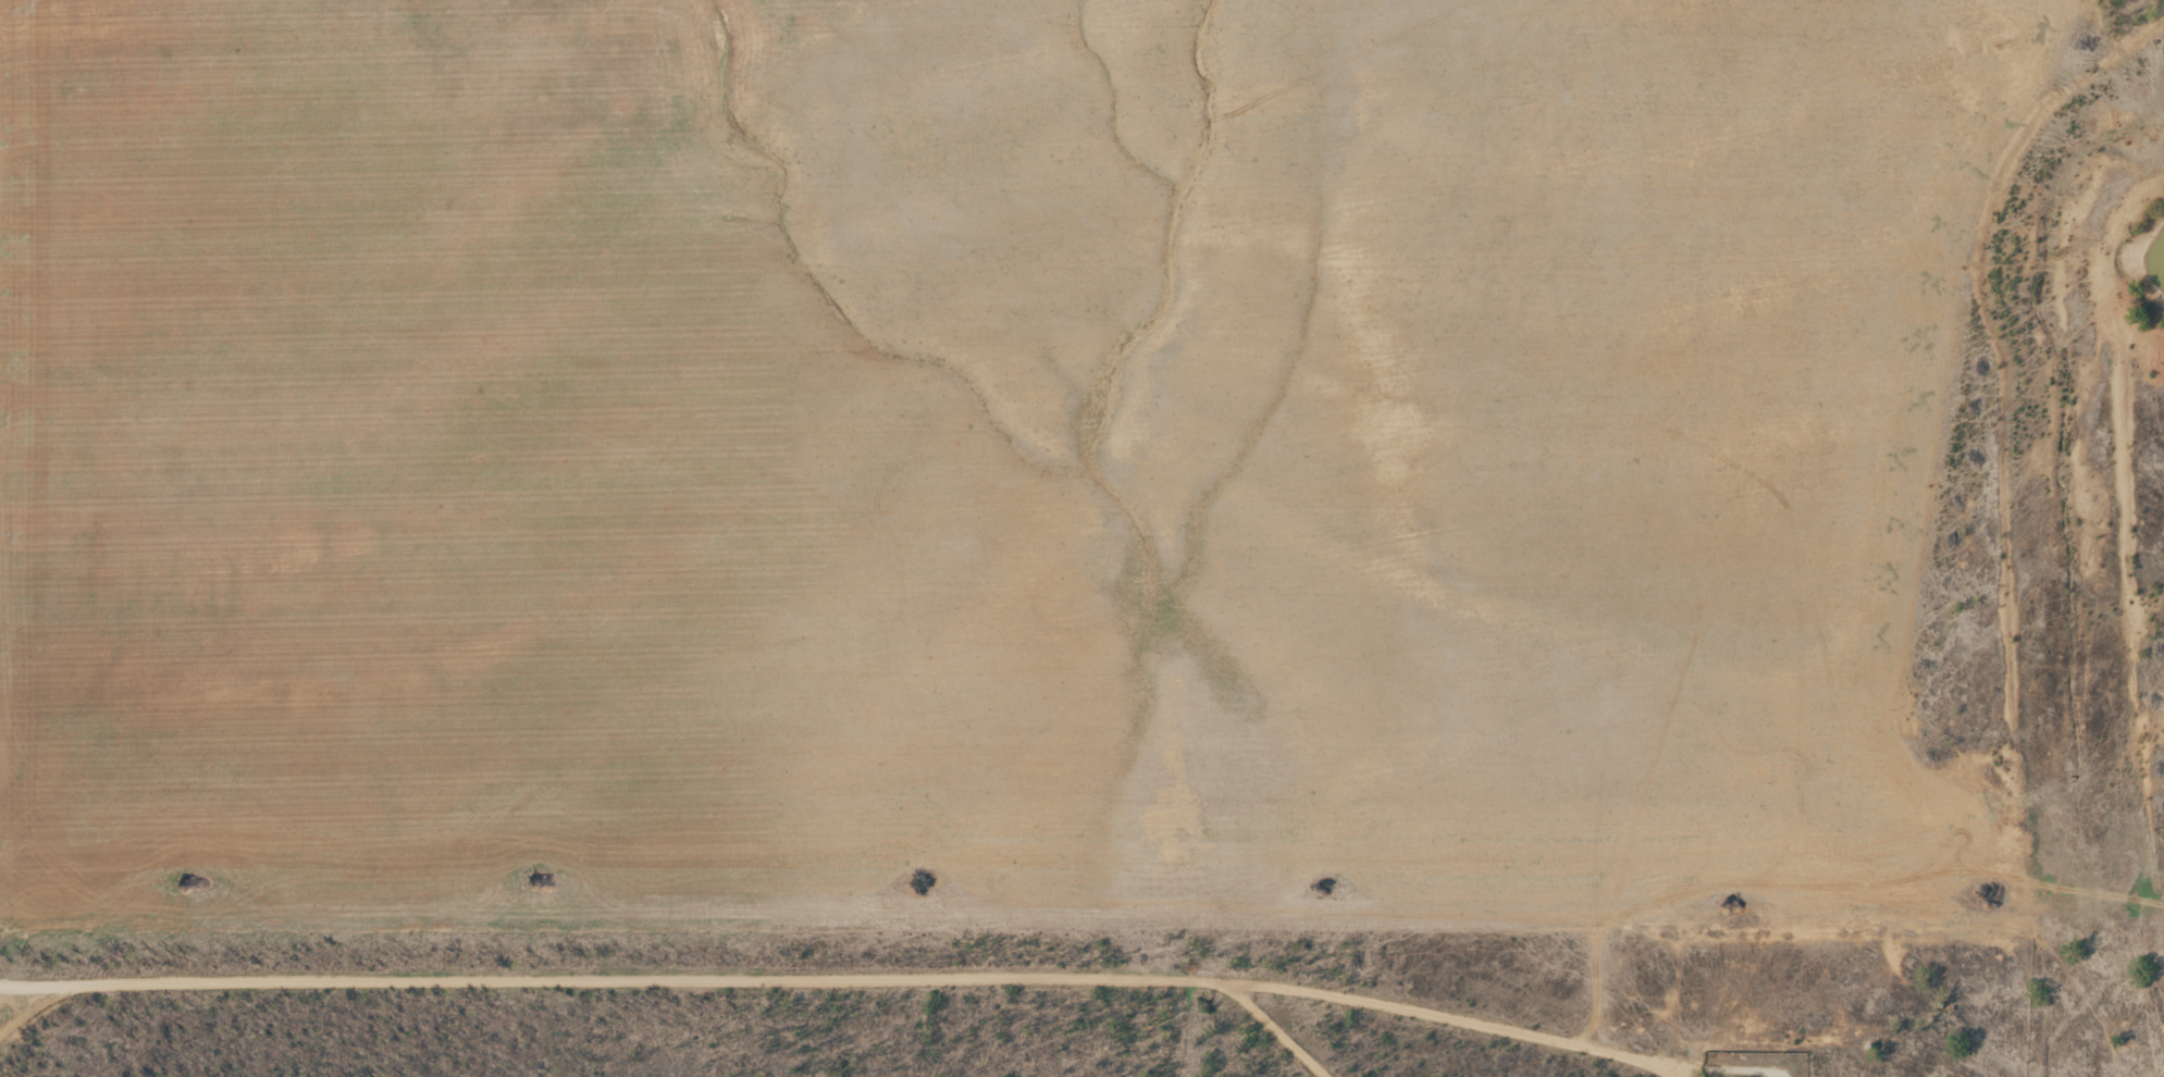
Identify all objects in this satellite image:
road: (844, 983)
road: (1273, 1028)

